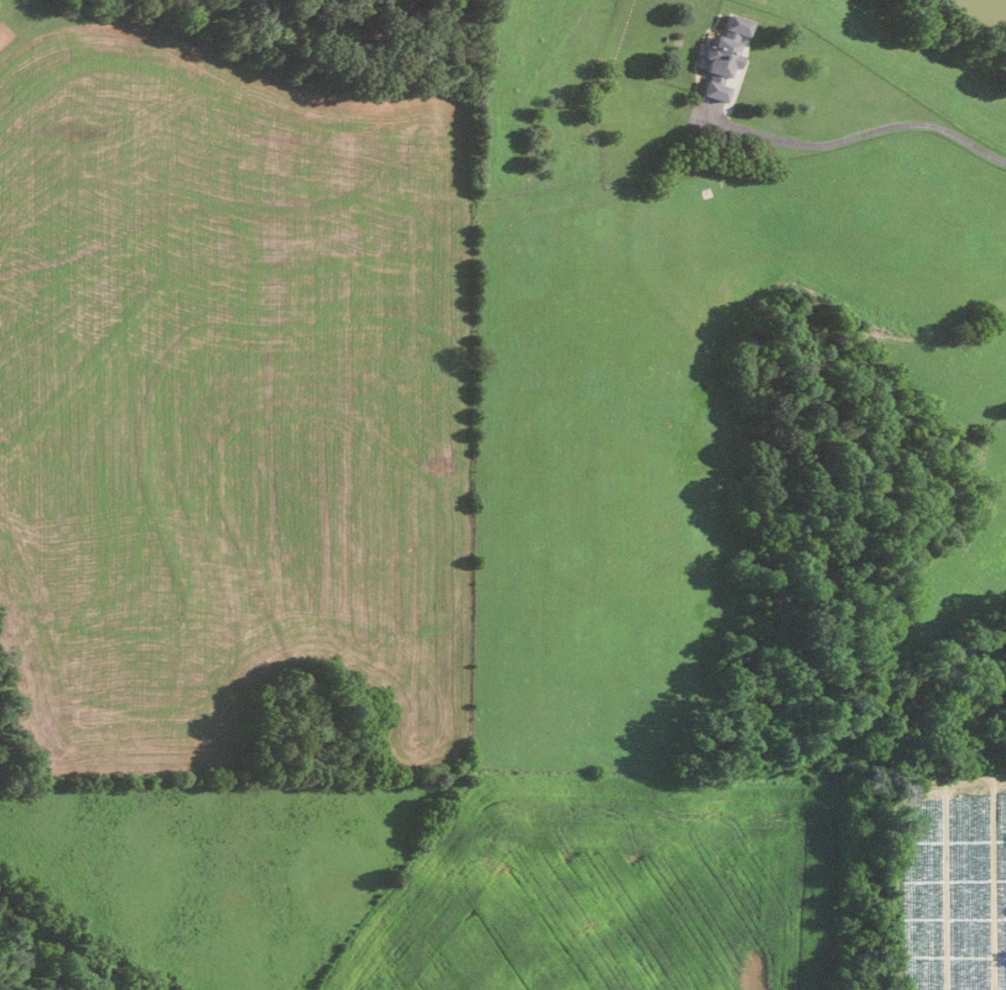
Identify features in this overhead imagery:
building: (721, 55)
road: (855, 135)

